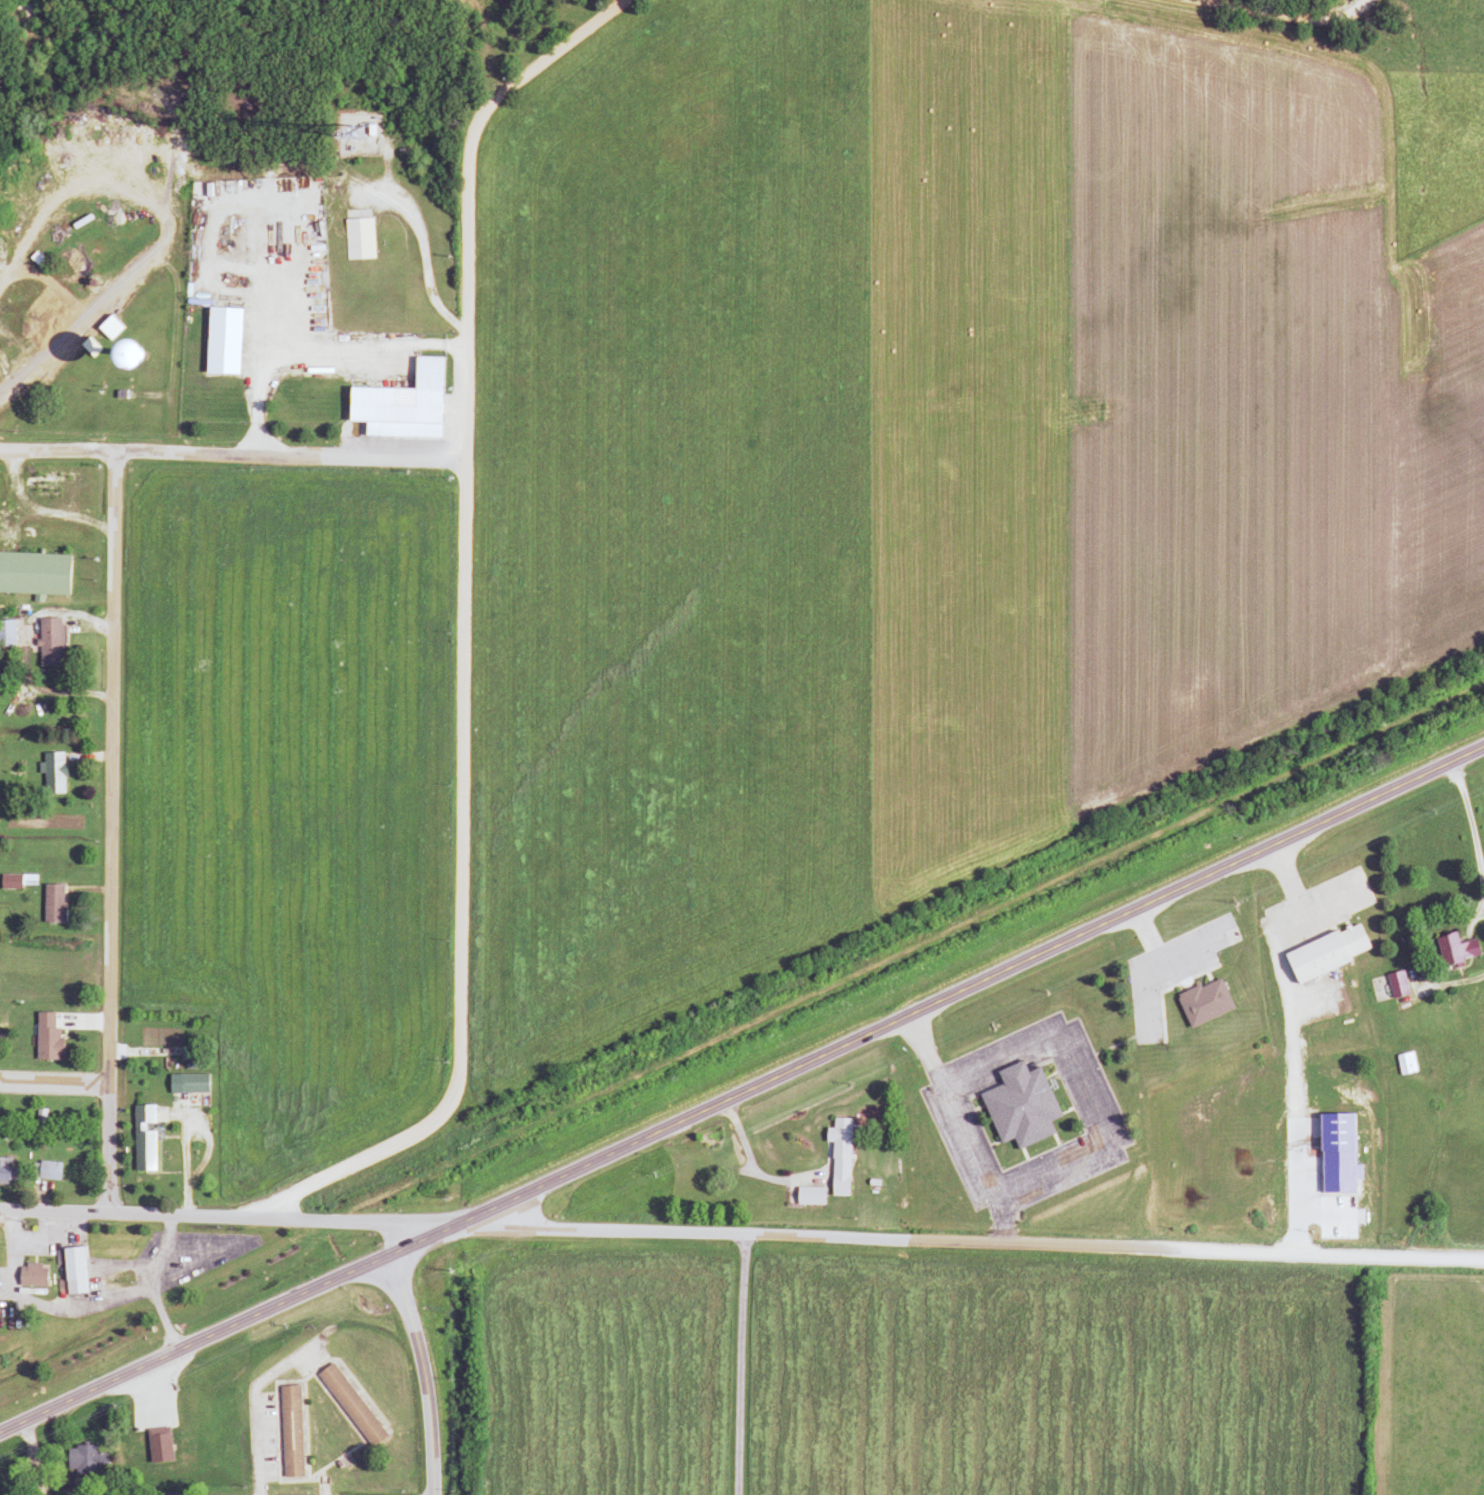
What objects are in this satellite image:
road: (1277, 11)
building: (506, 36)
building: (357, 239)
road: (75, 327)
building: (107, 329)
building: (398, 406)
road: (230, 454)
road: (46, 510)
building: (33, 575)
building: (6, 634)
road: (458, 635)
building: (47, 642)
building: (49, 774)
road: (109, 831)
road: (1470, 834)
building: (10, 884)
road: (1288, 887)
building: (50, 904)
building: (1452, 950)
building: (1323, 953)
road: (969, 979)
building: (1394, 985)
railway: (736, 996)
building: (1201, 1003)
building: (45, 1039)
building: (1403, 1064)
road: (51, 1081)
building: (190, 1085)
building: (1017, 1107)
building: (141, 1140)
building: (837, 1157)
building: (4, 1172)
building: (44, 1172)
building: (806, 1197)
road: (230, 1215)
road: (393, 1237)
road: (912, 1240)
road: (1424, 1259)
building: (71, 1272)
building: (30, 1277)
road: (229, 1327)
road: (742, 1365)
road: (923, 1367)
road: (421, 1372)
road: (258, 1402)
building: (348, 1404)
building: (288, 1431)
building: (81, 1460)
building: (166, 1494)

